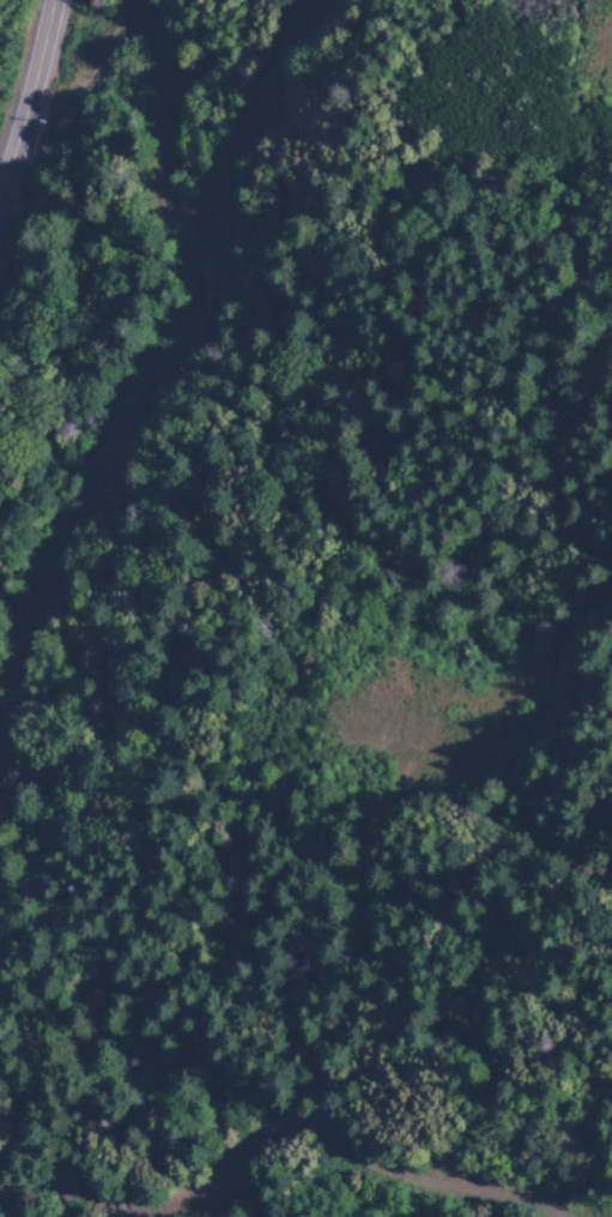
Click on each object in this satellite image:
road: (46, 101)
road: (244, 1105)

